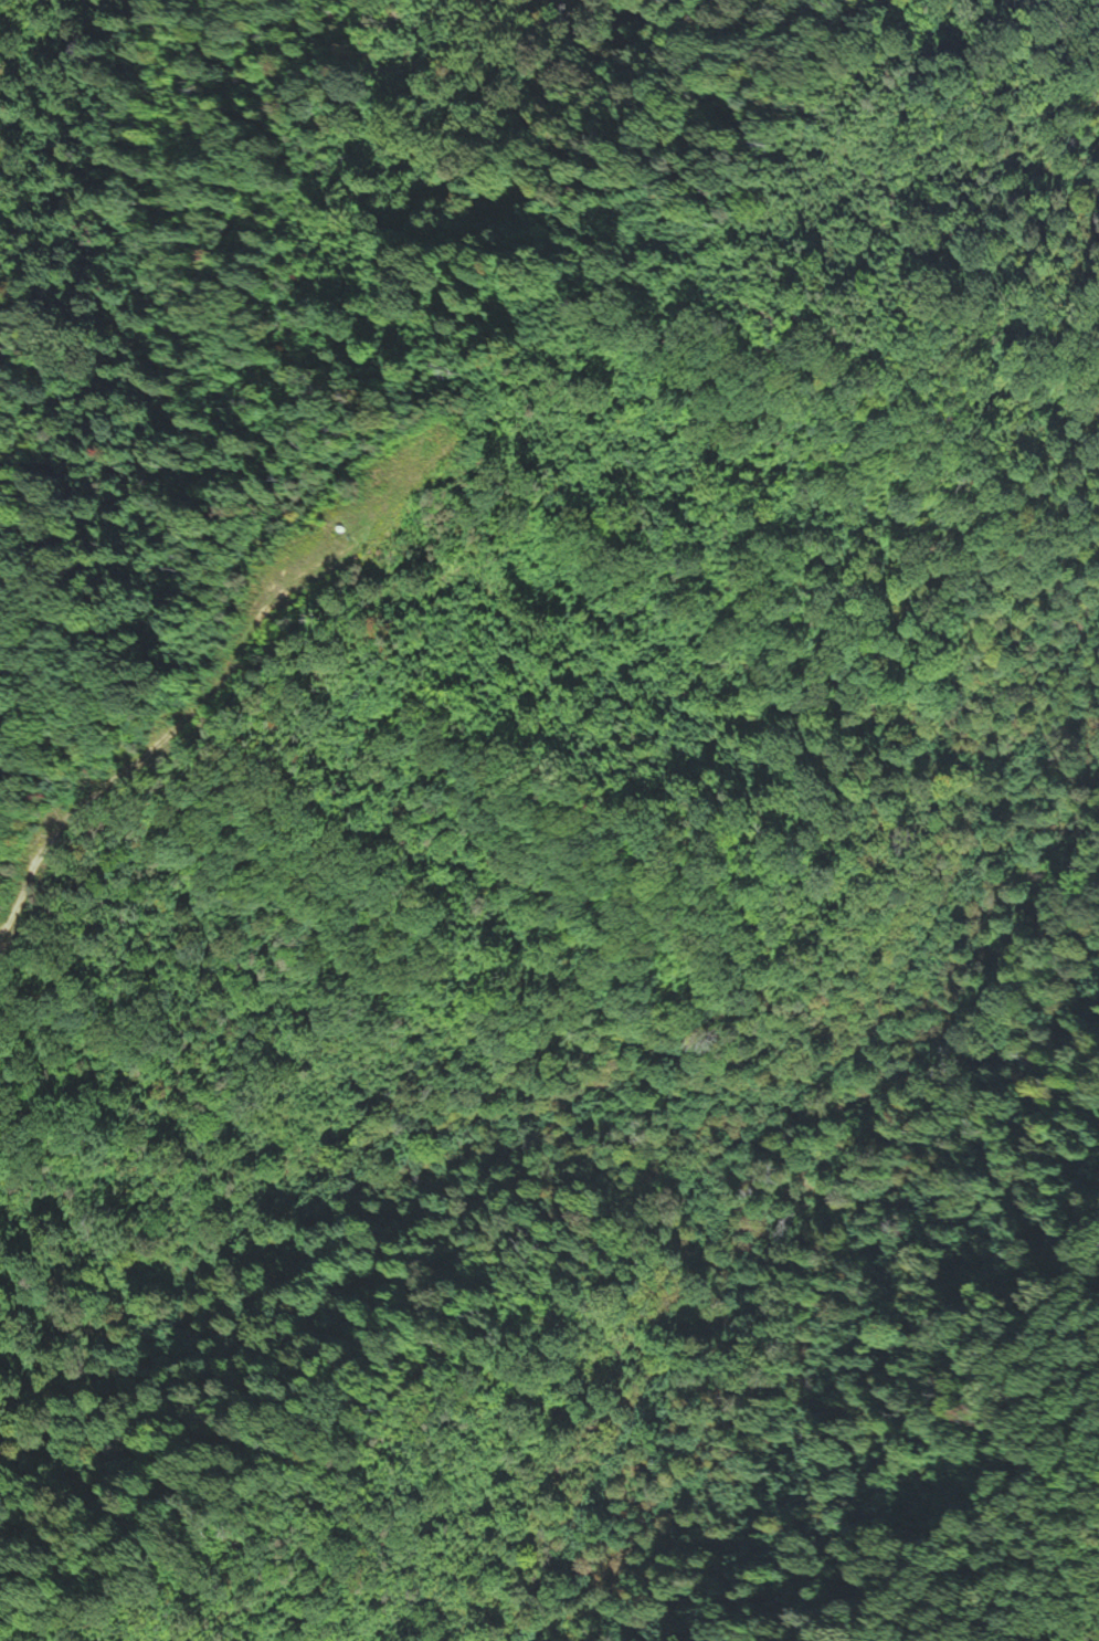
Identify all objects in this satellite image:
road: (181, 726)

